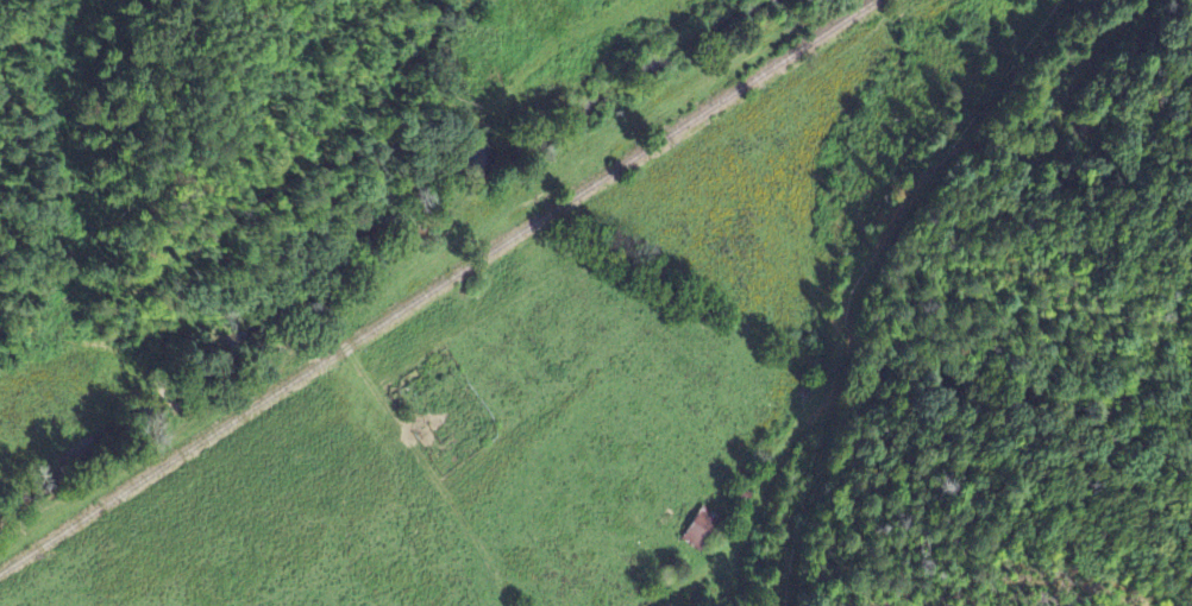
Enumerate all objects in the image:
road: (981, 143)
river: (360, 213)
road: (437, 254)
railway: (438, 285)
road: (766, 476)
building: (696, 535)

